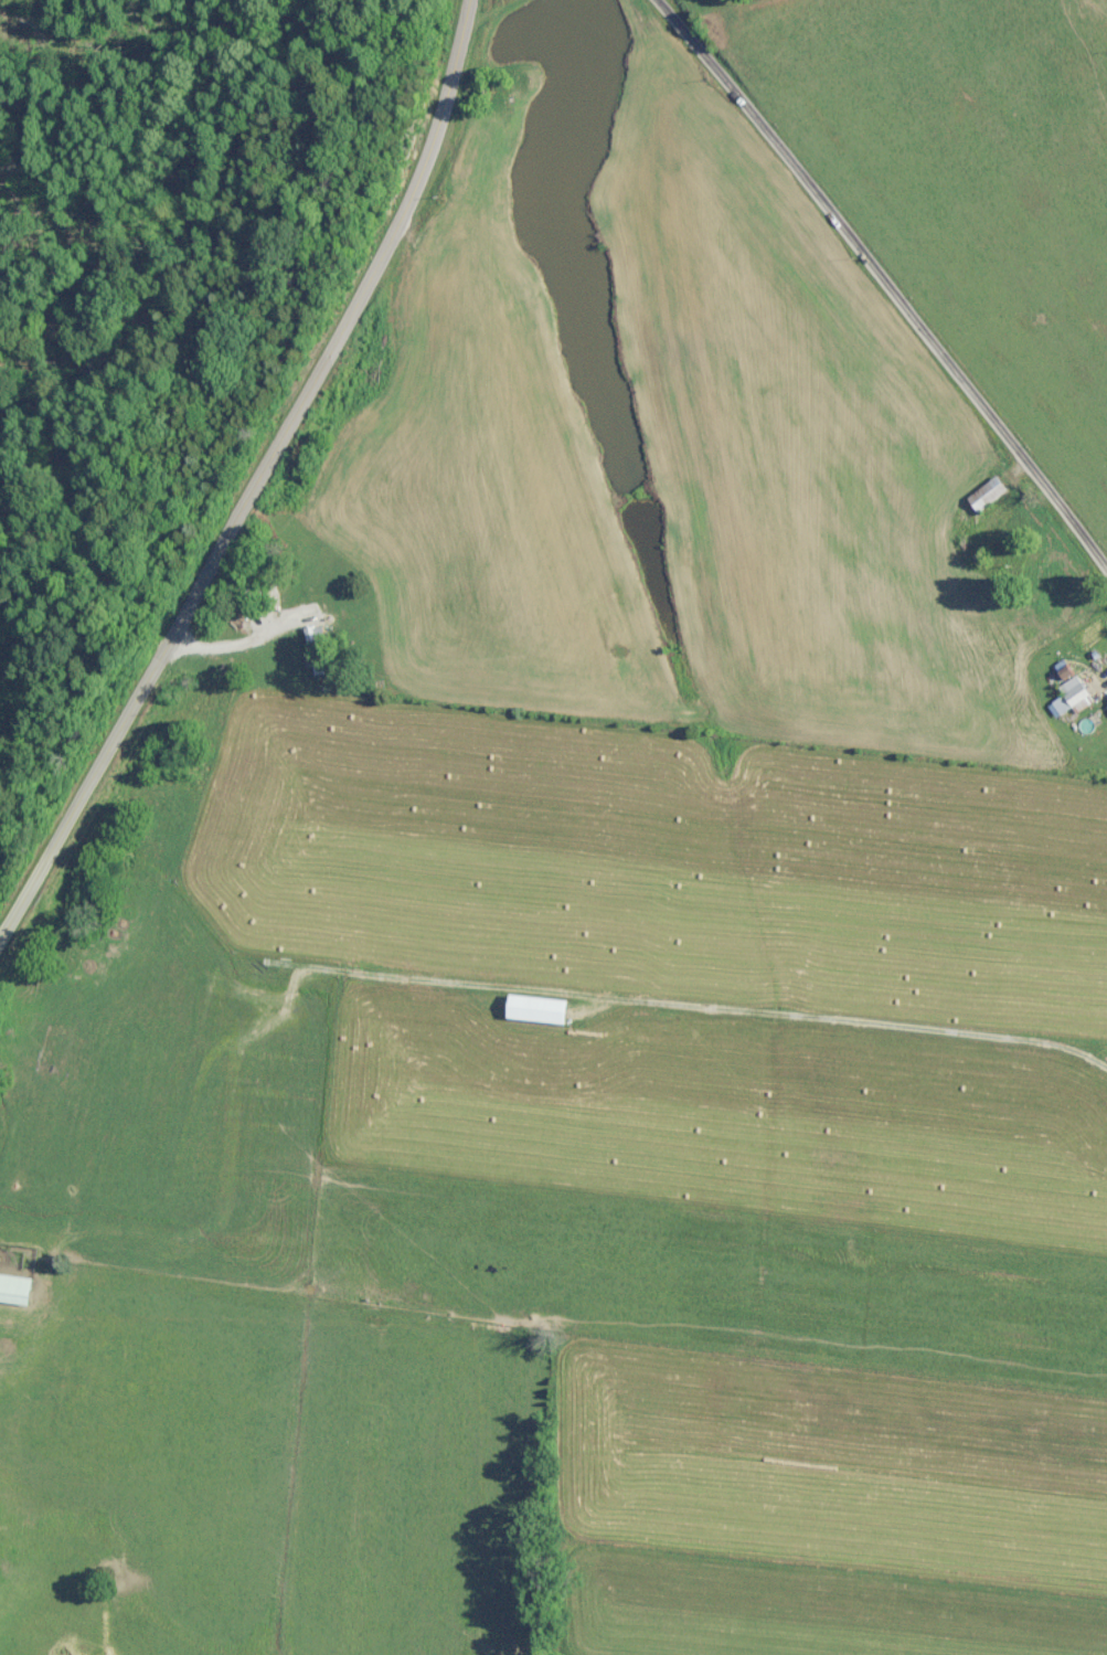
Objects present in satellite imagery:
road: (885, 279)
road: (258, 482)
building: (981, 495)
building: (999, 533)
building: (313, 648)
building: (1066, 696)
building: (18, 1287)

